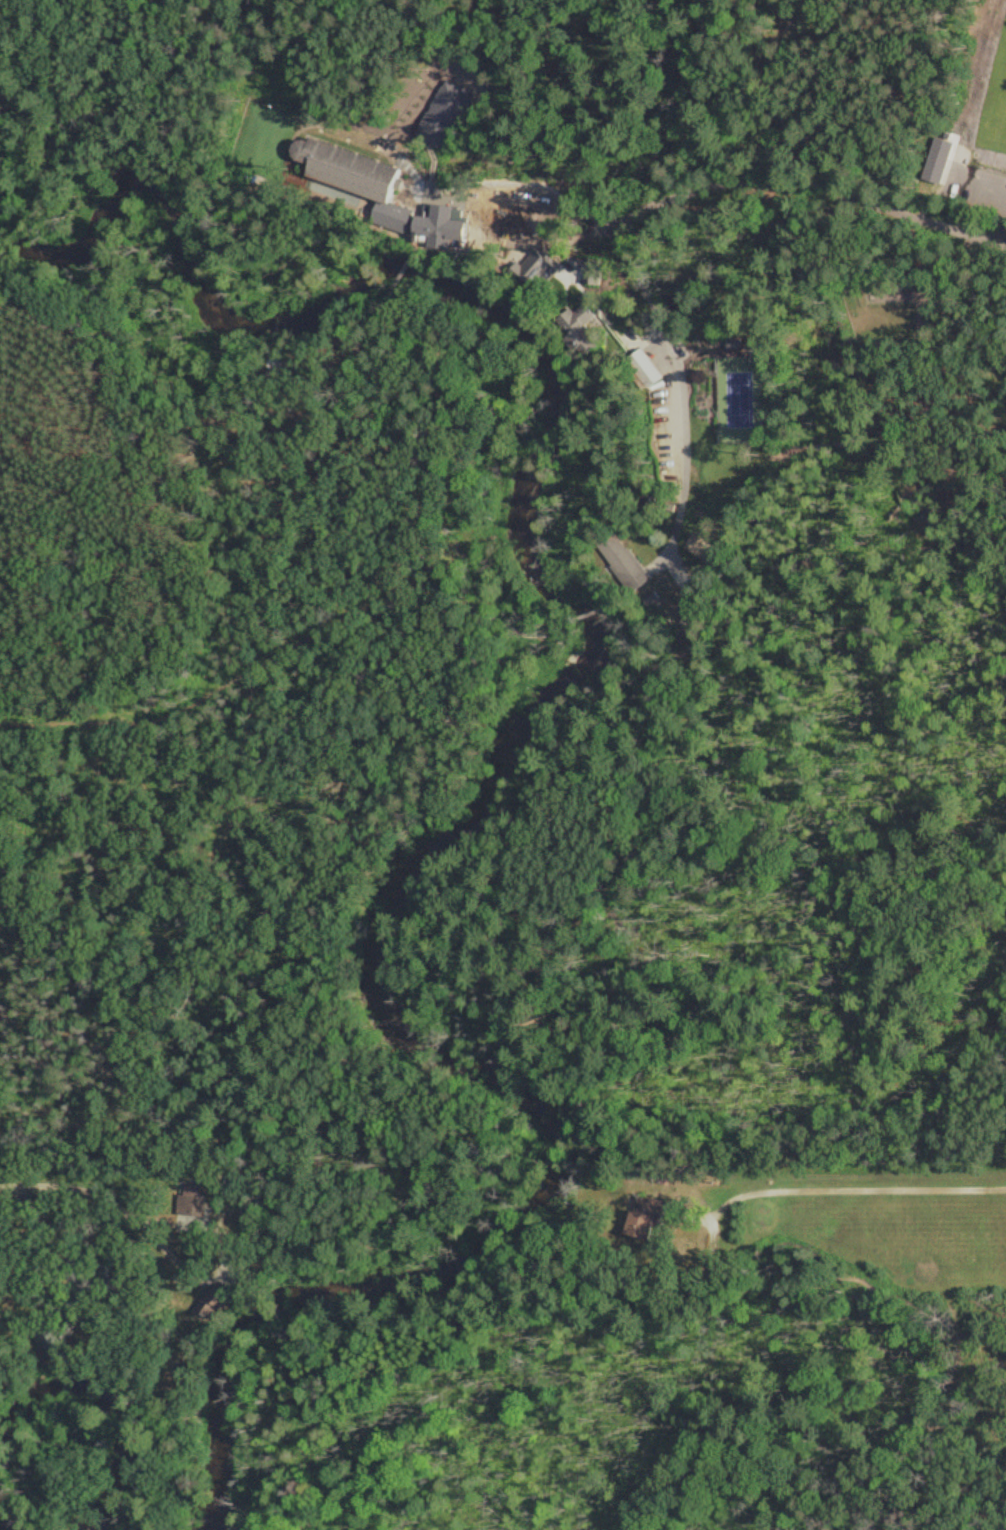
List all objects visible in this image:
road: (728, 192)
building: (647, 371)
park: (740, 399)
river: (530, 714)
road: (126, 1162)
river: (117, 1405)
river: (2, 1528)

